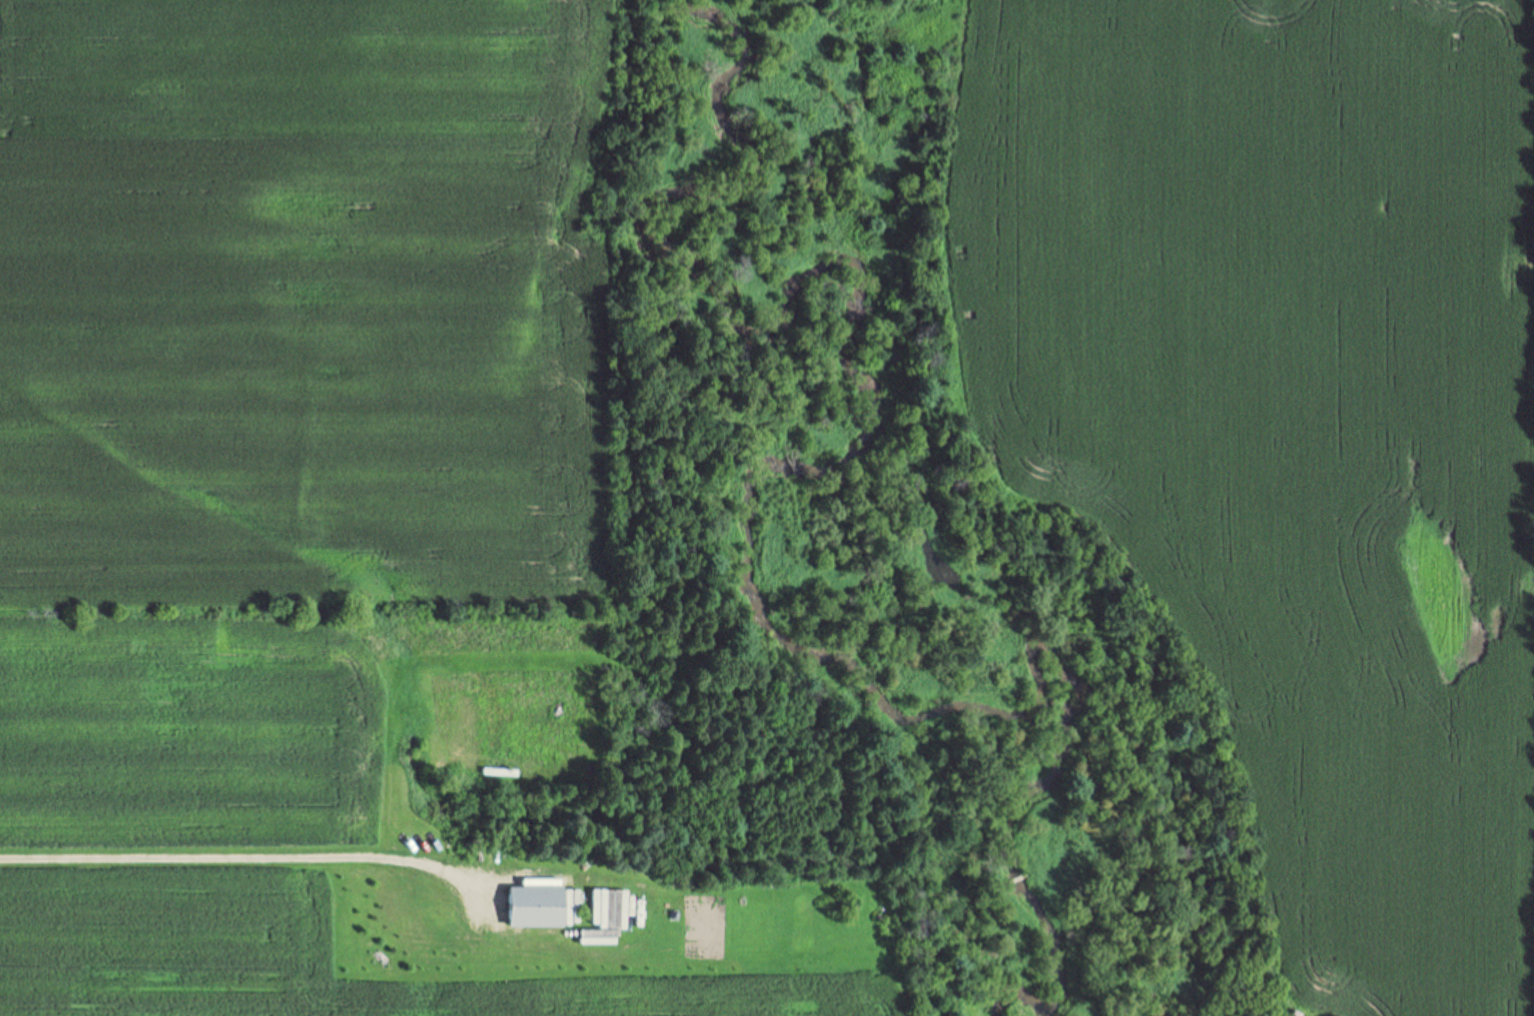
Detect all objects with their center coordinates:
road: (250, 854)
building: (536, 910)

